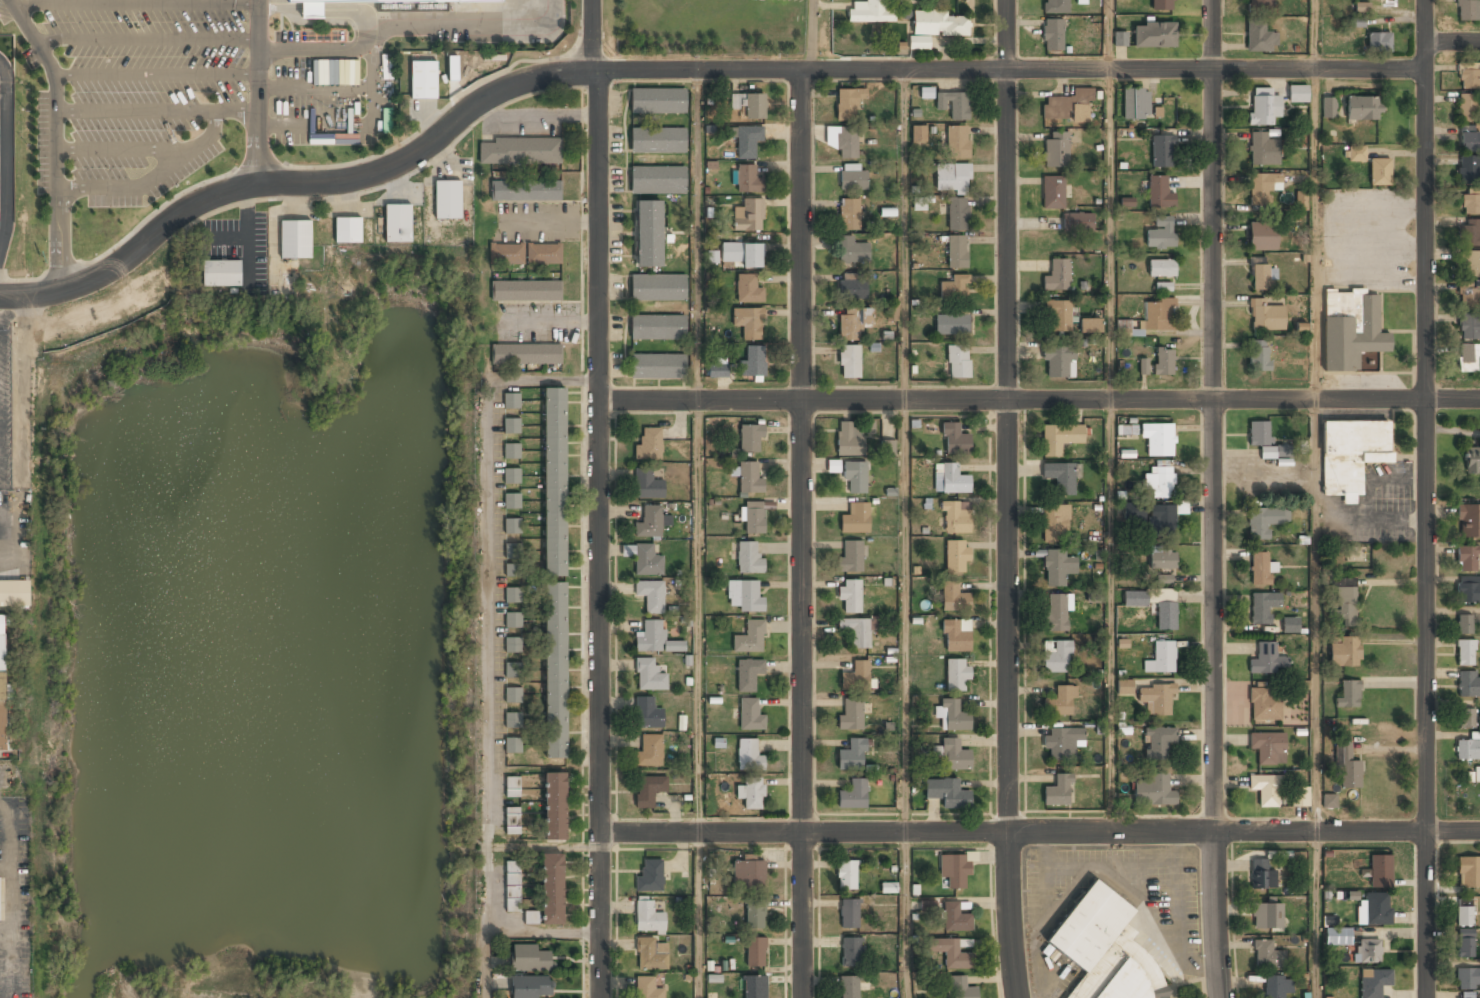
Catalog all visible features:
building: (389, 1)
building: (1161, 5)
building: (1260, 5)
building: (1055, 7)
building: (1361, 7)
building: (1468, 10)
building: (868, 11)
building: (1357, 21)
building: (940, 25)
building: (1052, 34)
building: (1153, 34)
building: (322, 35)
road: (592, 35)
road: (1109, 35)
road: (1314, 35)
building: (1259, 36)
building: (1120, 38)
building: (1378, 41)
road: (1452, 41)
building: (919, 42)
building: (453, 65)
road: (683, 71)
building: (1468, 75)
building: (423, 80)
road: (53, 89)
parking lot: (183, 89)
road: (255, 93)
building: (1297, 93)
building: (657, 99)
building: (847, 103)
building: (749, 104)
building: (953, 104)
building: (1135, 104)
building: (1069, 106)
building: (1263, 107)
building: (1327, 107)
building: (1466, 107)
building: (1361, 108)
building: (918, 133)
building: (657, 139)
building: (747, 140)
building: (843, 140)
building: (957, 141)
building: (1469, 141)
building: (1056, 149)
building: (1262, 149)
building: (1161, 150)
building: (519, 151)
building: (1355, 153)
building: (1468, 169)
building: (1379, 171)
building: (746, 177)
building: (952, 177)
building: (852, 178)
building: (658, 180)
building: (1263, 187)
building: (525, 189)
building: (1052, 191)
building: (1159, 191)
building: (446, 200)
building: (1301, 200)
building: (919, 203)
building: (1471, 204)
building: (957, 213)
building: (749, 214)
building: (849, 214)
building: (1077, 221)
building: (397, 223)
building: (346, 230)
building: (1161, 232)
building: (1469, 233)
building: (648, 234)
building: (1262, 236)
road: (62, 239)
building: (295, 240)
building: (851, 249)
building: (956, 251)
building: (525, 253)
building: (741, 254)
building: (1470, 264)
building: (1161, 267)
building: (220, 274)
building: (1262, 274)
building: (1057, 276)
building: (853, 286)
building: (1163, 286)
building: (657, 287)
building: (955, 287)
building: (748, 289)
building: (526, 290)
building: (1467, 296)
building: (1058, 315)
building: (1265, 315)
building: (1149, 317)
building: (748, 322)
building: (851, 323)
building: (951, 324)
building: (1089, 325)
building: (1469, 326)
building: (657, 327)
building: (1350, 328)
building: (526, 354)
building: (1258, 355)
building: (1468, 357)
building: (754, 360)
building: (849, 361)
building: (958, 361)
building: (1057, 361)
building: (1163, 361)
building: (657, 366)
building: (717, 369)
building: (511, 400)
road: (1040, 401)
building: (511, 425)
building: (1126, 428)
building: (1259, 433)
building: (751, 437)
building: (1158, 437)
building: (849, 438)
building: (1059, 438)
building: (954, 439)
building: (649, 444)
building: (887, 447)
building: (511, 450)
building: (1283, 450)
road: (698, 451)
road: (904, 451)
road: (1110, 451)
road: (1314, 451)
building: (1350, 454)
building: (1472, 461)
building: (512, 475)
building: (855, 477)
building: (749, 478)
building: (950, 478)
building: (1060, 478)
building: (554, 481)
building: (1158, 481)
building: (646, 484)
road: (1008, 499)
road: (1213, 499)
road: (1425, 499)
building: (512, 501)
building: (955, 516)
building: (753, 517)
building: (855, 518)
building: (1162, 520)
building: (649, 521)
building: (1265, 521)
building: (1468, 521)
building: (1054, 523)
building: (512, 525)
road: (601, 534)
road: (802, 534)
building: (513, 550)
building: (850, 556)
building: (956, 556)
building: (748, 557)
building: (1467, 557)
building: (1162, 558)
building: (646, 560)
building: (1057, 567)
building: (513, 569)
building: (1260, 569)
building: (1163, 579)
building: (1468, 589)
building: (14, 593)
building: (513, 594)
building: (850, 594)
building: (651, 595)
building: (743, 595)
building: (953, 597)
building: (1154, 604)
building: (1344, 604)
building: (1263, 607)
building: (1056, 613)
building: (512, 620)
building: (1463, 624)
building: (1290, 625)
building: (856, 631)
building: (955, 635)
building: (749, 637)
building: (655, 639)
building: (512, 645)
building: (1344, 652)
building: (1465, 652)
building: (1057, 656)
building: (1160, 658)
building: (1267, 660)
building: (554, 669)
building: (510, 670)
building: (747, 674)
building: (956, 674)
building: (649, 675)
building: (855, 677)
building: (3, 678)
building: (1468, 684)
building: (1124, 686)
building: (1349, 692)
building: (512, 694)
building: (1156, 699)
building: (1059, 701)
building: (1265, 704)
building: (646, 712)
building: (749, 714)
building: (850, 715)
building: (952, 715)
building: (1466, 718)
building: (512, 720)
building: (1062, 742)
building: (1157, 742)
building: (512, 745)
building: (1268, 747)
building: (1468, 749)
building: (649, 750)
building: (748, 755)
building: (954, 755)
building: (851, 756)
building: (1347, 767)
building: (1477, 775)
road: (3, 778)
building: (512, 786)
building: (648, 789)
building: (1266, 789)
building: (1058, 790)
building: (1153, 790)
building: (751, 792)
building: (947, 792)
building: (853, 794)
building: (1299, 796)
building: (1329, 800)
building: (554, 806)
building: (512, 818)
road: (1039, 832)
building: (955, 870)
building: (1380, 871)
building: (1468, 871)
building: (749, 873)
building: (846, 875)
building: (1261, 875)
building: (649, 876)
building: (512, 883)
building: (552, 889)
building: (1374, 909)
building: (849, 913)
building: (1465, 913)
road: (700, 915)
building: (754, 915)
road: (905, 915)
building: (1267, 915)
road: (1315, 915)
building: (647, 917)
building: (955, 917)
building: (1337, 936)
building: (1465, 943)
building: (1105, 949)
building: (756, 950)
building: (1367, 951)
building: (851, 952)
building: (950, 952)
building: (652, 954)
building: (1266, 954)
building: (529, 958)
building: (1467, 978)
building: (1373, 982)
building: (752, 985)
building: (849, 986)
building: (1272, 986)
building: (529, 987)
building: (961, 987)
building: (647, 988)
building: (1466, 995)

